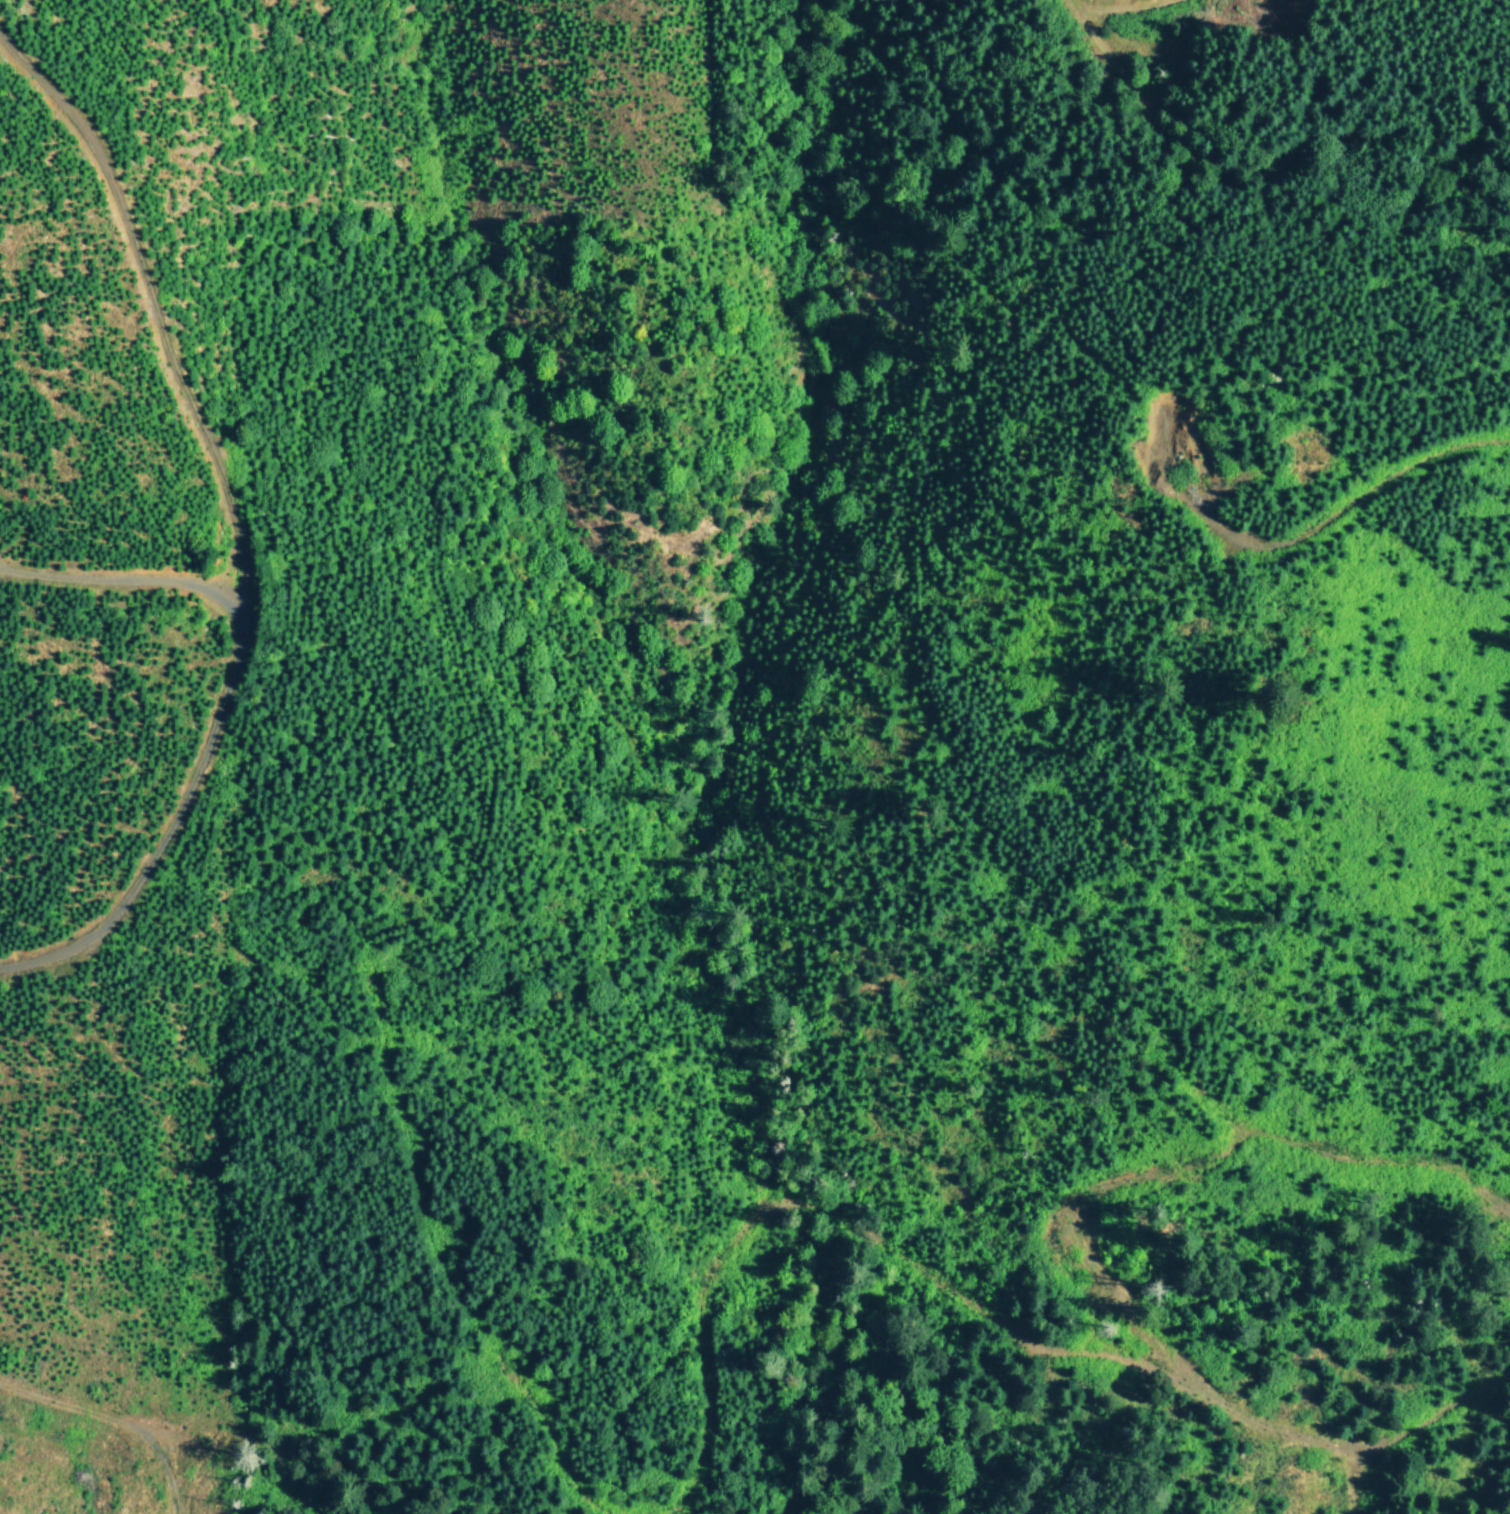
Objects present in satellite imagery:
road: (1407, 1433)

